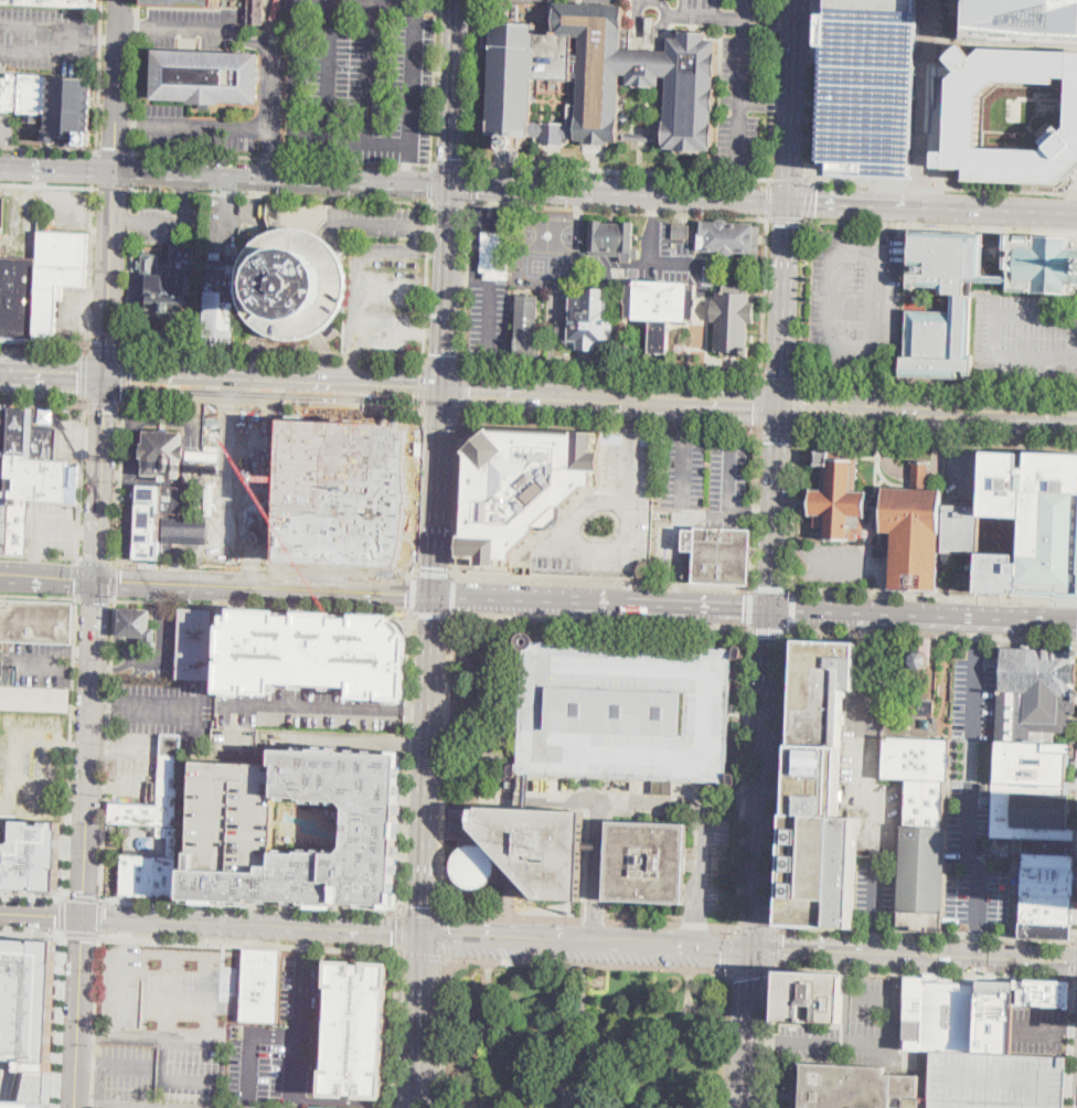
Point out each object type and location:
road: (395, 0)
parking lot: (591, 0)
building: (56, 2)
building: (185, 2)
parking garage: (185, 2)
road: (437, 2)
road: (640, 4)
building: (256, 11)
road: (671, 15)
road: (710, 17)
road: (770, 20)
building: (1022, 20)
parking garage: (1022, 20)
road: (276, 23)
road: (662, 24)
road: (44, 26)
road: (194, 26)
parking lot: (196, 26)
parking lot: (49, 38)
road: (103, 39)
road: (47, 51)
building: (556, 55)
building: (596, 66)
building: (646, 67)
road: (327, 70)
road: (373, 71)
parking lot: (735, 74)
road: (99, 76)
road: (136, 76)
building: (206, 76)
parking lot: (361, 77)
road: (413, 82)
road: (434, 82)
road: (473, 82)
road: (739, 82)
building: (510, 83)
road: (118, 86)
building: (868, 86)
parking lot: (868, 86)
road: (810, 89)
road: (772, 90)
road: (454, 93)
building: (690, 93)
parking lot: (278, 96)
road: (795, 99)
road: (767, 103)
road: (923, 103)
building: (52, 104)
building: (962, 108)
road: (268, 109)
road: (192, 127)
parking lot: (9, 128)
building: (554, 128)
parking lot: (194, 129)
road: (3, 131)
building: (640, 136)
road: (363, 140)
road: (49, 150)
road: (115, 152)
road: (281, 158)
road: (314, 160)
road: (450, 163)
road: (57, 169)
road: (96, 170)
road: (620, 171)
road: (134, 172)
road: (408, 173)
road: (281, 179)
road: (787, 180)
road: (430, 182)
road: (469, 182)
road: (47, 185)
road: (940, 185)
road: (227, 187)
traffic signals: (450, 187)
road: (114, 189)
road: (186, 189)
road: (886, 190)
road: (619, 193)
road: (281, 195)
road: (494, 198)
road: (768, 199)
road: (807, 199)
traffic signals: (790, 201)
road: (449, 202)
road: (576, 205)
road: (653, 205)
road: (934, 206)
road: (617, 211)
parking lot: (492, 217)
road: (494, 217)
road: (786, 217)
parking lot: (170, 219)
road: (124, 221)
road: (169, 222)
parking lot: (373, 223)
road: (390, 225)
road: (940, 225)
road: (438, 226)
road: (551, 227)
road: (884, 227)
road: (226, 228)
road: (198, 231)
parking lot: (224, 231)
building: (681, 232)
road: (652, 238)
building: (731, 238)
building: (612, 239)
road: (575, 245)
road: (409, 249)
parking lot: (548, 249)
building: (215, 255)
building: (497, 256)
building: (1042, 264)
building: (899, 267)
road: (89, 269)
road: (129, 270)
road: (614, 271)
road: (110, 274)
road: (436, 278)
road: (469, 279)
road: (427, 280)
building: (166, 281)
building: (40, 284)
building: (291, 284)
road: (465, 286)
road: (446, 288)
road: (764, 296)
road: (801, 297)
road: (786, 302)
parking lot: (856, 303)
building: (964, 303)
parking lot: (387, 306)
building: (661, 308)
road: (364, 309)
building: (218, 312)
road: (490, 318)
parking lot: (490, 320)
building: (733, 322)
building: (586, 323)
building: (527, 327)
road: (289, 328)
road: (434, 332)
parking lot: (1026, 338)
road: (367, 341)
road: (105, 344)
road: (42, 349)
traffic signals: (444, 353)
road: (253, 354)
road: (879, 354)
road: (274, 355)
road: (327, 359)
road: (442, 360)
road: (1074, 360)
road: (611, 367)
road: (359, 370)
road: (4, 372)
road: (57, 375)
road: (83, 375)
road: (779, 375)
traffic signals: (107, 376)
road: (125, 377)
road: (760, 377)
road: (799, 379)
road: (878, 382)
road: (937, 382)
road: (1034, 387)
road: (423, 388)
traffic signals: (415, 390)
road: (462, 392)
traffic signals: (470, 393)
road: (591, 397)
road: (198, 398)
road: (41, 401)
road: (83, 402)
road: (104, 404)
traffic signals: (754, 405)
road: (758, 406)
road: (796, 407)
traffic signals: (804, 407)
road: (104, 413)
road: (271, 413)
road: (461, 417)
road: (440, 419)
road: (631, 420)
road: (685, 420)
road: (116, 426)
road: (609, 426)
building: (4, 427)
road: (966, 427)
road: (776, 433)
road: (936, 437)
road: (93, 438)
parking lot: (72, 439)
traffic signals: (780, 441)
road: (199, 448)
road: (129, 450)
parking lot: (194, 450)
building: (163, 454)
road: (964, 468)
parking lot: (964, 469)
parking lot: (3, 471)
road: (115, 473)
parking lot: (683, 473)
road: (683, 473)
road: (909, 473)
building: (921, 473)
building: (32, 477)
road: (729, 479)
road: (100, 480)
road: (83, 482)
road: (119, 483)
building: (521, 488)
building: (342, 492)
parking lot: (342, 492)
road: (438, 492)
road: (417, 496)
road: (457, 497)
building: (840, 499)
parking lot: (708, 505)
road: (777, 508)
road: (756, 511)
road: (796, 512)
road: (753, 514)
building: (157, 515)
building: (607, 518)
parking garage: (607, 518)
road: (676, 521)
building: (1020, 525)
parking lot: (54, 528)
road: (45, 529)
building: (185, 530)
road: (88, 531)
building: (915, 537)
road: (181, 540)
road: (789, 540)
road: (100, 546)
road: (593, 551)
building: (721, 555)
road: (40, 558)
road: (98, 562)
road: (830, 563)
parking lot: (833, 563)
road: (36, 564)
road: (266, 566)
road: (180, 572)
road: (434, 573)
road: (50, 578)
road: (77, 579)
road: (882, 579)
traffic signals: (99, 582)
road: (116, 582)
road: (601, 582)
road: (771, 587)
road: (266, 588)
road: (675, 589)
road: (414, 593)
traffic signals: (435, 595)
road: (452, 595)
road: (39, 597)
road: (935, 597)
road: (96, 599)
road: (604, 600)
road: (265, 604)
road: (750, 607)
road: (793, 608)
traffic signals: (772, 609)
road: (431, 614)
road: (892, 614)
road: (1044, 619)
road: (554, 620)
road: (600, 620)
road: (711, 622)
building: (137, 625)
road: (978, 626)
road: (770, 629)
road: (868, 633)
road: (935, 633)
building: (195, 642)
parking lot: (153, 649)
road: (488, 649)
building: (314, 650)
road: (160, 652)
road: (79, 654)
building: (924, 654)
road: (38, 662)
building: (1, 664)
parking lot: (38, 664)
road: (145, 705)
road: (481, 705)
building: (923, 707)
parking lot: (168, 709)
road: (314, 709)
road: (417, 712)
building: (626, 712)
parking lot: (626, 712)
road: (749, 716)
parking lot: (298, 717)
road: (337, 741)
road: (90, 748)
road: (70, 749)
road: (108, 752)
road: (19, 759)
road: (406, 763)
road: (469, 763)
parking lot: (134, 764)
road: (427, 764)
parking lot: (32, 765)
road: (445, 766)
building: (170, 769)
road: (742, 775)
road: (46, 777)
road: (764, 777)
road: (785, 777)
parking lot: (873, 777)
road: (970, 784)
building: (1037, 785)
road: (867, 789)
building: (819, 792)
road: (733, 799)
parking lot: (974, 800)
road: (657, 806)
building: (920, 827)
building: (230, 828)
parking garage: (230, 828)
building: (373, 828)
parking lot: (111, 838)
building: (520, 849)
building: (31, 856)
building: (646, 862)
building: (151, 870)
parking lot: (110, 871)
road: (598, 872)
road: (32, 896)
road: (83, 896)
traffic signals: (422, 905)
road: (250, 907)
road: (1076, 908)
road: (196, 910)
road: (42, 913)
road: (419, 914)
road: (63, 916)
road: (509, 917)
road: (99, 919)
road: (591, 919)
road: (673, 924)
road: (252, 926)
road: (757, 928)
road: (699, 929)
road: (31, 931)
road: (729, 931)
road: (127, 933)
traffic signals: (392, 933)
road: (81, 934)
road: (399, 934)
traffic signals: (450, 935)
road: (923, 936)
road: (445, 937)
road: (508, 937)
road: (875, 937)
road: (305, 938)
road: (978, 942)
road: (1076, 942)
road: (249, 944)
road: (675, 945)
road: (777, 945)
traffic signals: (722, 947)
traffic signals: (783, 947)
road: (815, 947)
road: (729, 951)
parking lot: (576, 952)
road: (425, 956)
road: (975, 956)
traffic signals: (1068, 960)
road: (1074, 961)
road: (593, 963)
road: (776, 965)
road: (751, 970)
road: (921, 972)
traffic signals: (756, 977)
road: (1075, 980)
parking lot: (120, 983)
building: (260, 984)
road: (124, 991)
building: (995, 991)
building: (1021, 991)
road: (582, 993)
building: (1049, 993)
building: (809, 997)
road: (849, 997)
road: (466, 1005)
road: (12, 1009)
road: (706, 1010)
road: (79, 1012)
parking lot: (158, 1013)
building: (911, 1013)
building: (949, 1016)
road: (416, 1020)
road: (60, 1021)
road: (94, 1021)
building: (29, 1022)
road: (577, 1024)
road: (753, 1026)
parking lot: (854, 1026)
road: (894, 1026)
building: (994, 1027)
building: (355, 1030)
road: (395, 1030)
parking lot: (1039, 1030)
road: (445, 1033)
park: (585, 1034)
road: (118, 1035)
road: (511, 1035)
road: (726, 1036)
road: (290, 1037)
road: (772, 1037)
road: (652, 1040)
road: (766, 1040)
parking lot: (281, 1042)
road: (190, 1043)
road: (813, 1043)
road: (1070, 1044)
road: (90, 1065)
road: (129, 1067)
road: (300, 1067)
parking lot: (189, 1068)
parking lot: (124, 1070)
building: (996, 1080)
parking lot: (996, 1080)
road: (164, 1082)
parking garage: (25, 1084)
building: (855, 1087)
road: (579, 1095)
road: (355, 1101)
road: (126, 1106)
road: (468, 1106)
building: (320, 1107)

